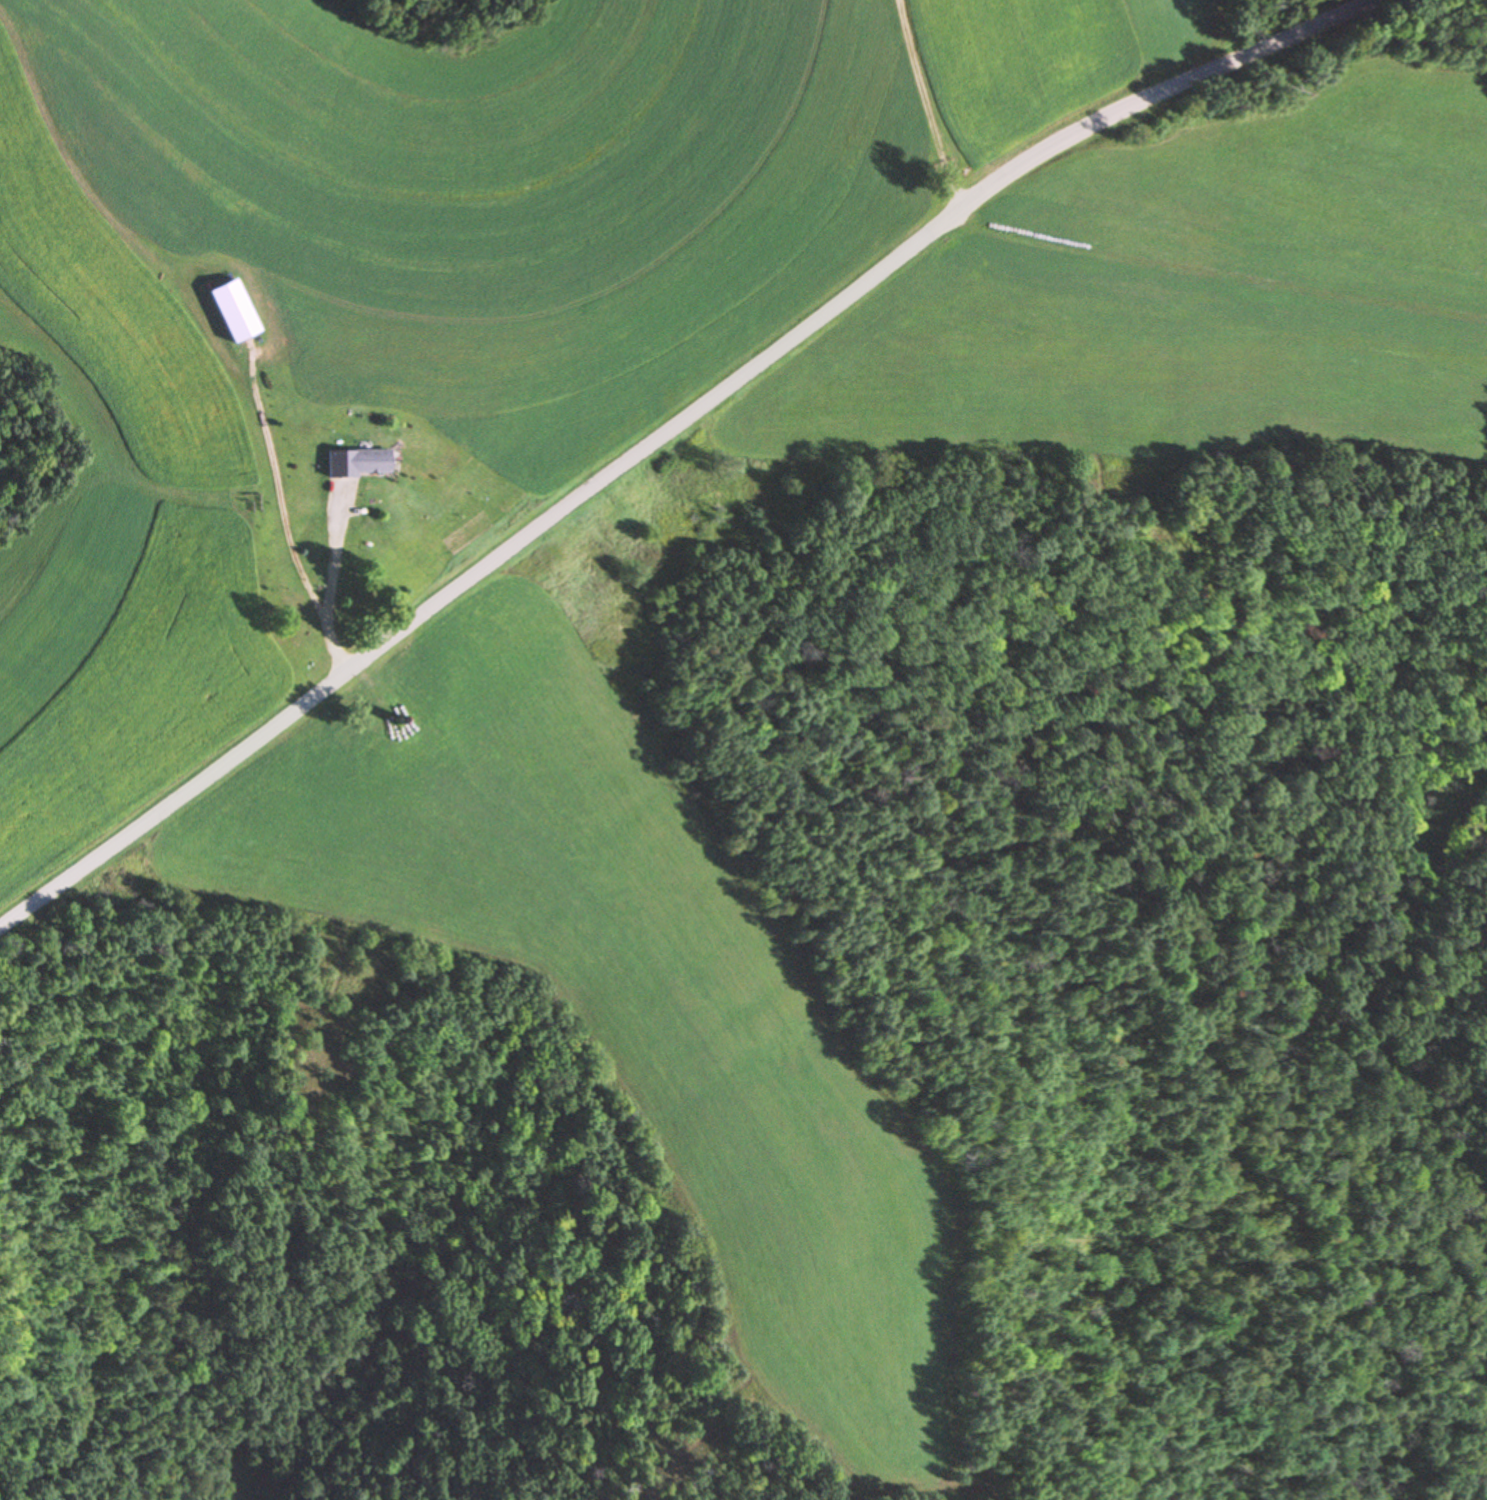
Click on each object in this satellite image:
building: (228, 311)
road: (674, 432)
building: (352, 462)
road: (283, 521)

